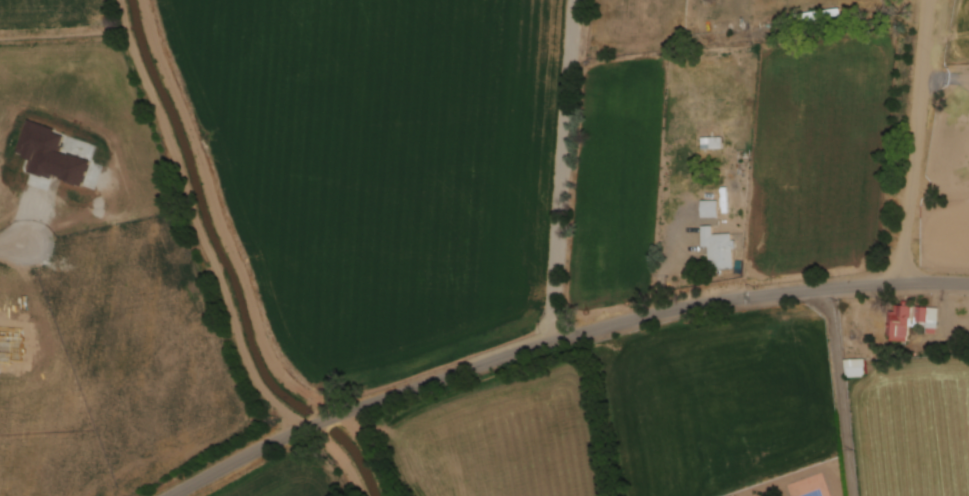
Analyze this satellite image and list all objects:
building: (821, 16)
road: (916, 141)
building: (713, 143)
road: (563, 171)
building: (710, 208)
building: (720, 247)
building: (911, 320)
road: (558, 340)
building: (856, 368)
road: (842, 391)

